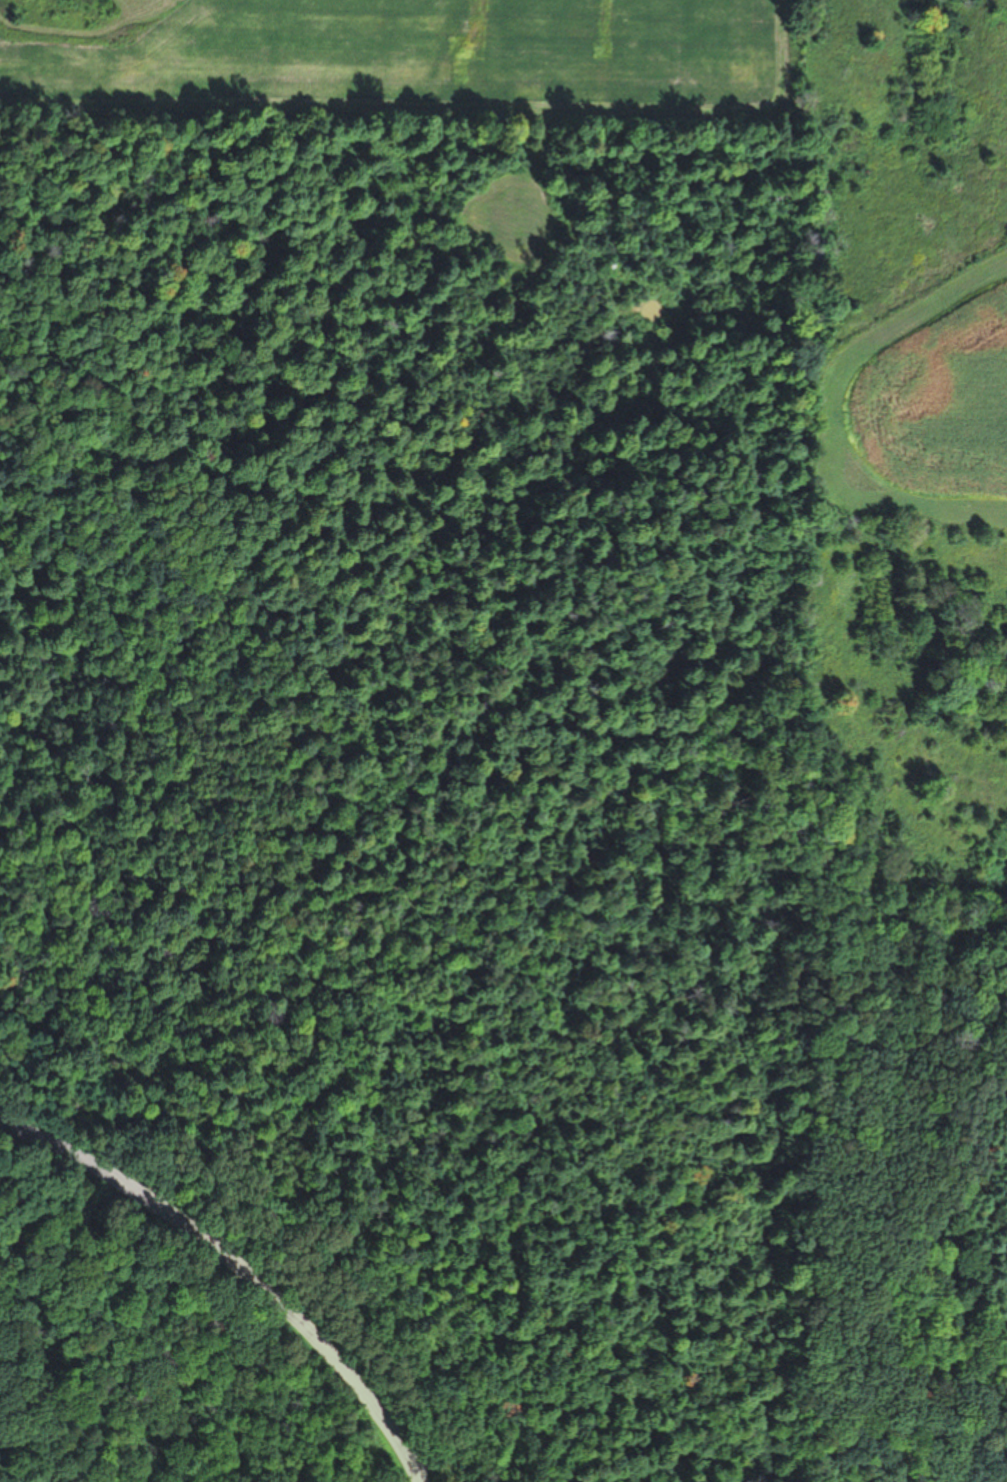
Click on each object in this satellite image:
road: (239, 1266)

